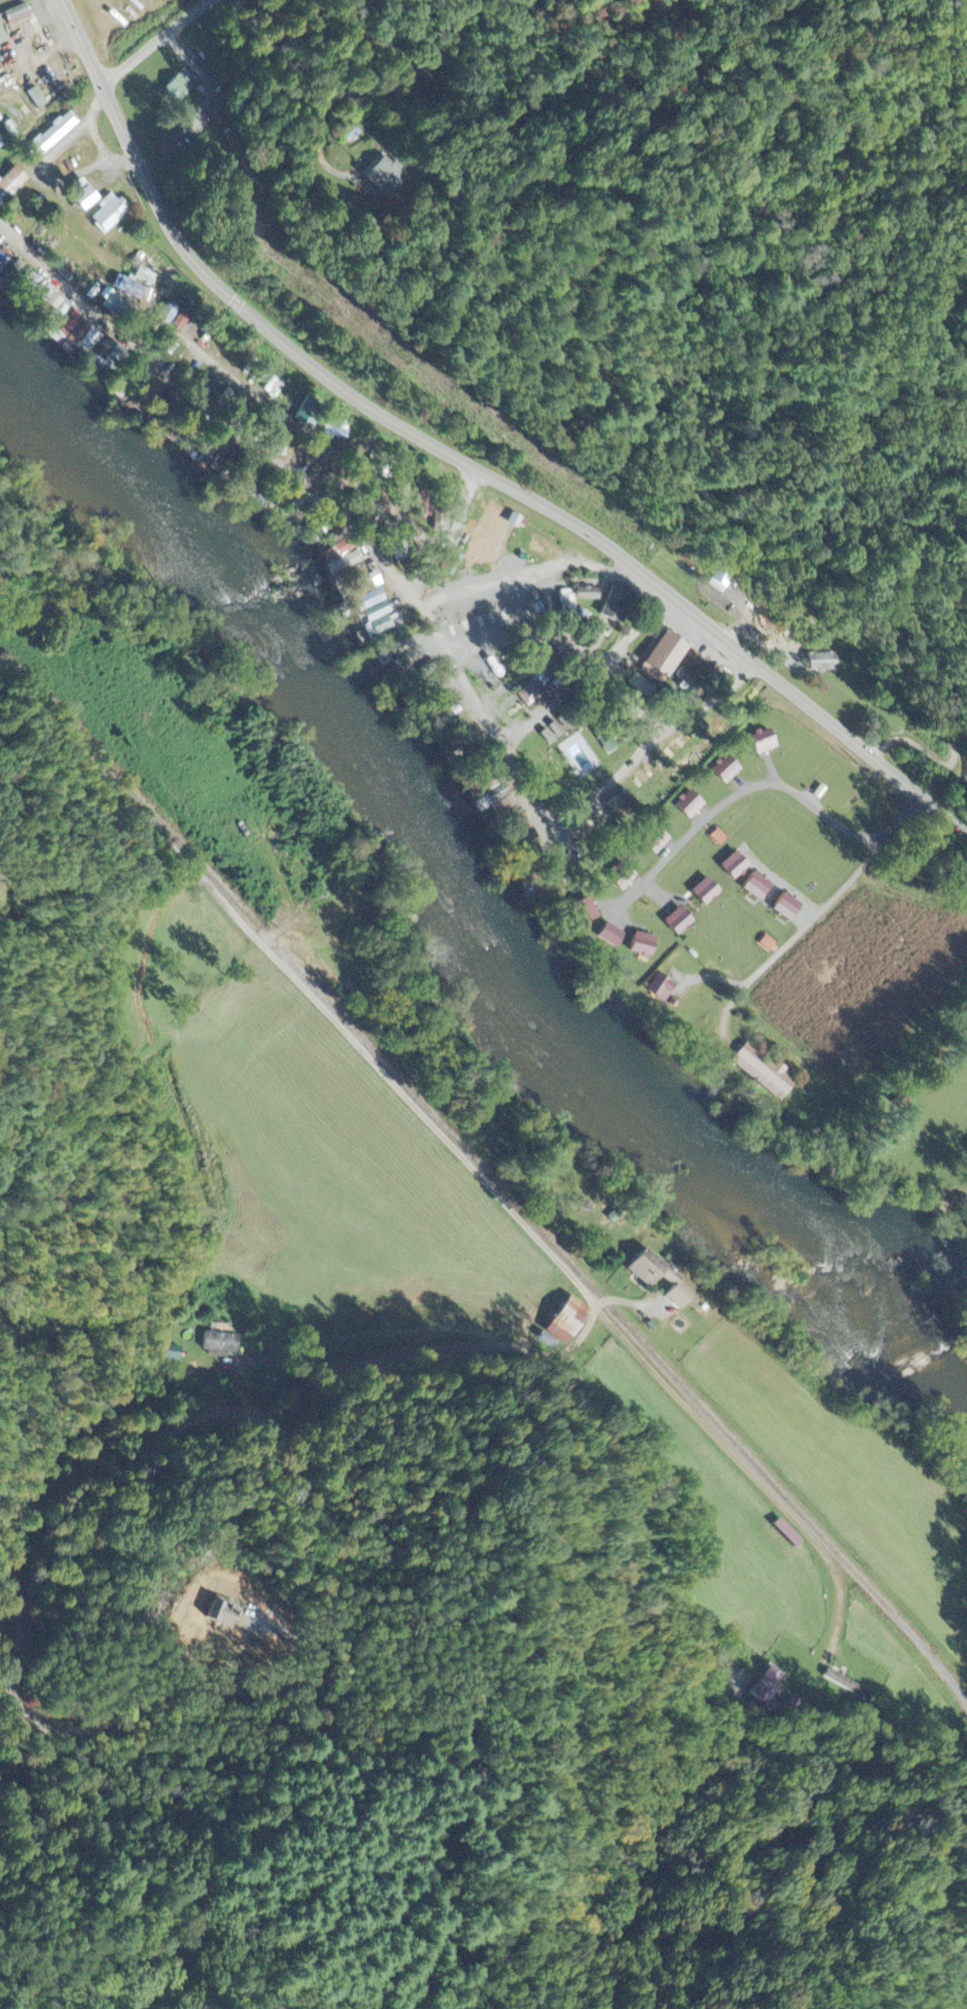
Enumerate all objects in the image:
building: (13, 16)
road: (161, 43)
building: (177, 89)
building: (50, 136)
building: (392, 181)
building: (10, 184)
building: (79, 197)
building: (105, 216)
building: (52, 314)
building: (167, 315)
building: (274, 388)
road: (462, 460)
river: (163, 494)
building: (513, 521)
building: (483, 535)
building: (339, 559)
building: (450, 564)
building: (584, 594)
building: (613, 601)
building: (363, 605)
building: (662, 658)
building: (825, 663)
building: (683, 679)
building: (528, 695)
building: (549, 733)
building: (759, 742)
building: (722, 770)
building: (475, 776)
building: (686, 806)
building: (652, 841)
building: (730, 867)
building: (545, 875)
building: (619, 878)
road: (853, 879)
building: (753, 886)
building: (702, 893)
building: (783, 907)
building: (581, 911)
building: (675, 922)
building: (607, 935)
building: (639, 945)
building: (658, 989)
river: (552, 1004)
building: (759, 1071)
building: (899, 1099)
road: (444, 1137)
railway: (488, 1175)
river: (956, 1252)
river: (909, 1269)
building: (670, 1281)
building: (565, 1319)
river: (920, 1337)
building: (218, 1345)
building: (170, 1354)
building: (845, 1686)
building: (767, 1687)

